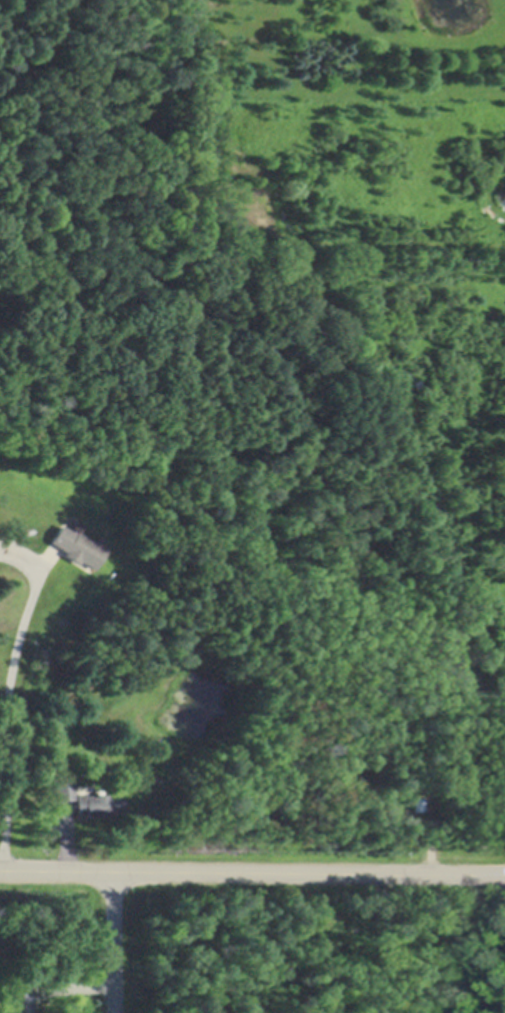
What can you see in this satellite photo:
building: (79, 542)
road: (10, 721)
building: (64, 791)
building: (417, 802)
building: (97, 803)
road: (252, 872)
road: (117, 942)
road: (481, 945)
building: (16, 1000)

